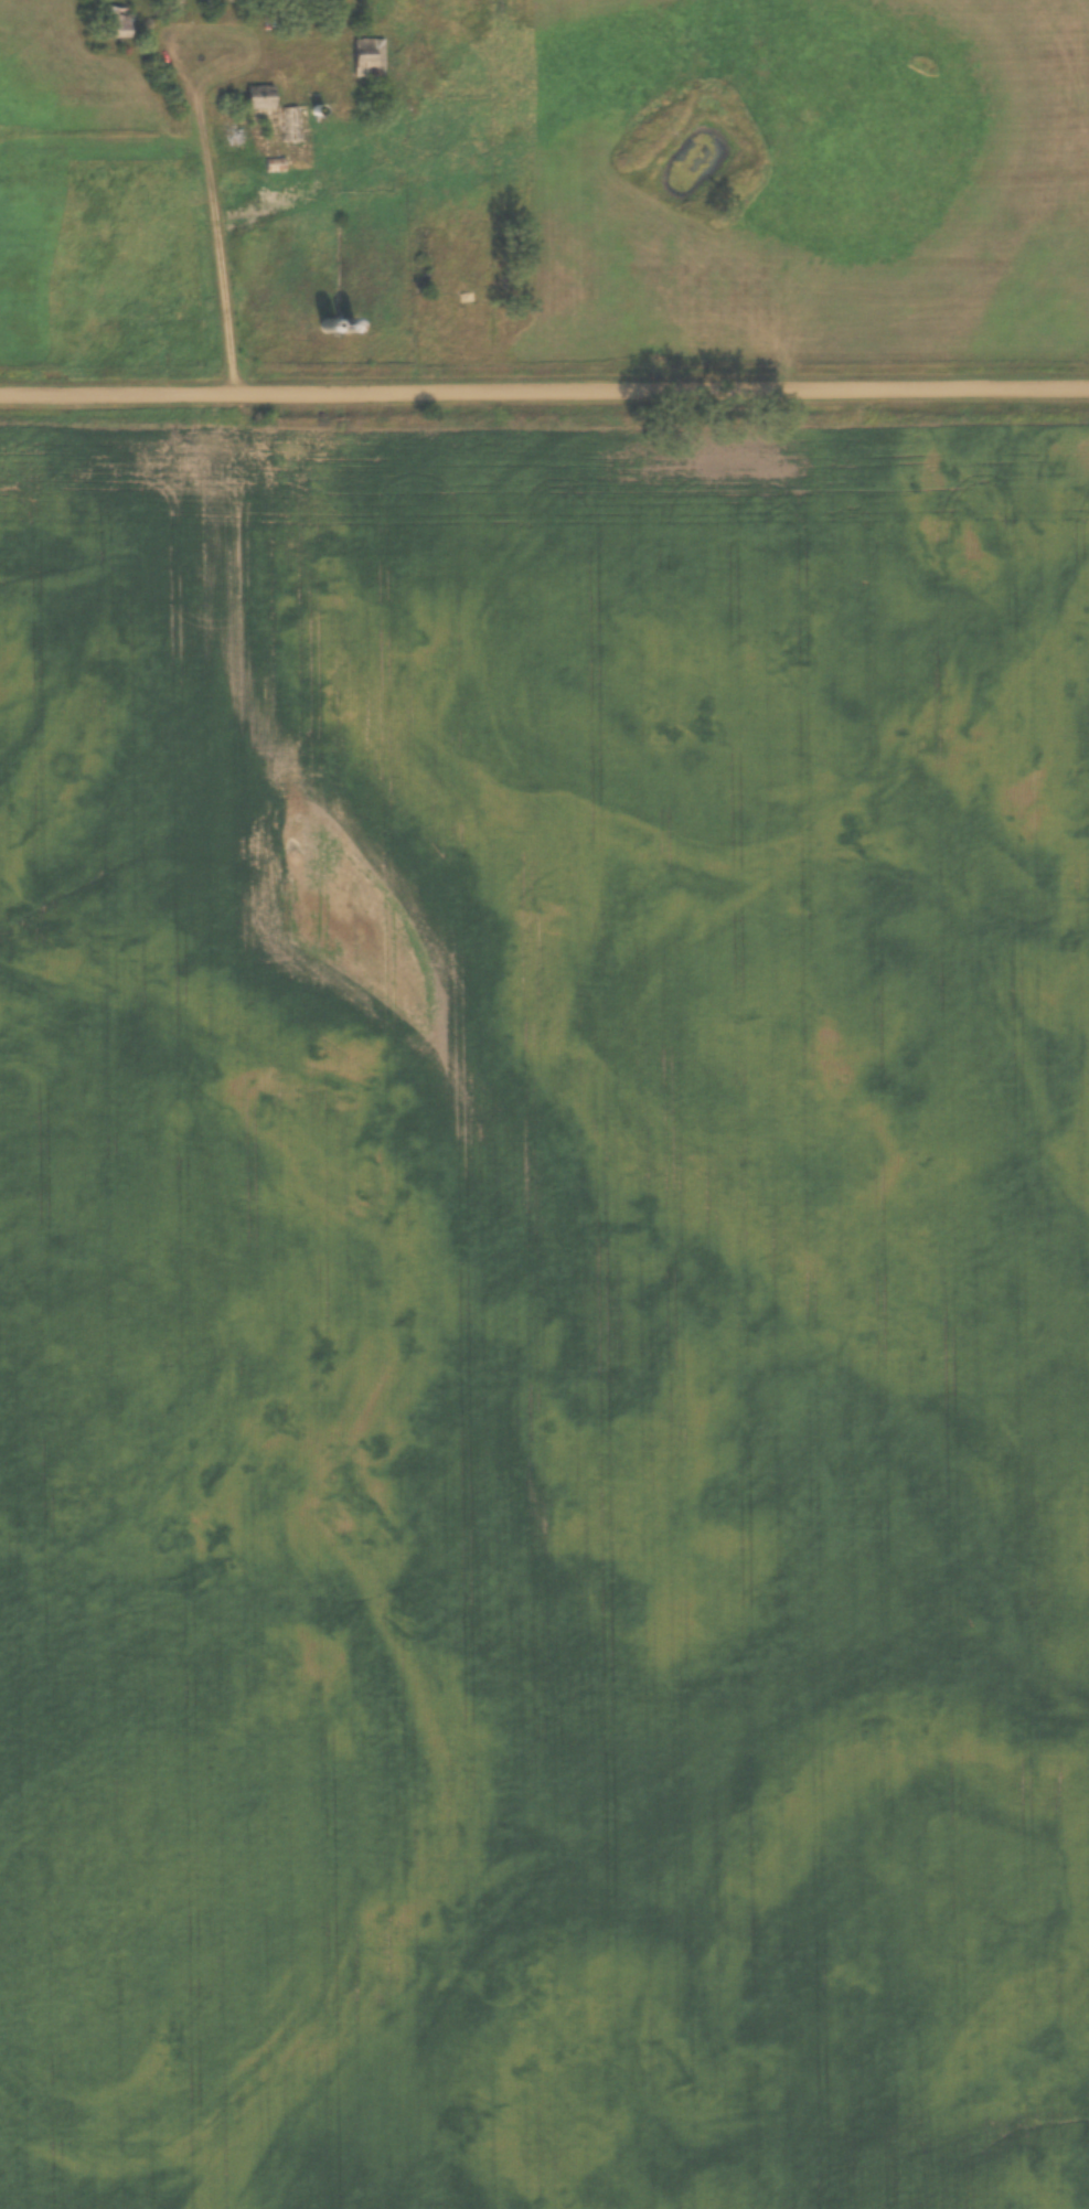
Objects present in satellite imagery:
building: (111, 21)
building: (365, 56)
road: (544, 393)

